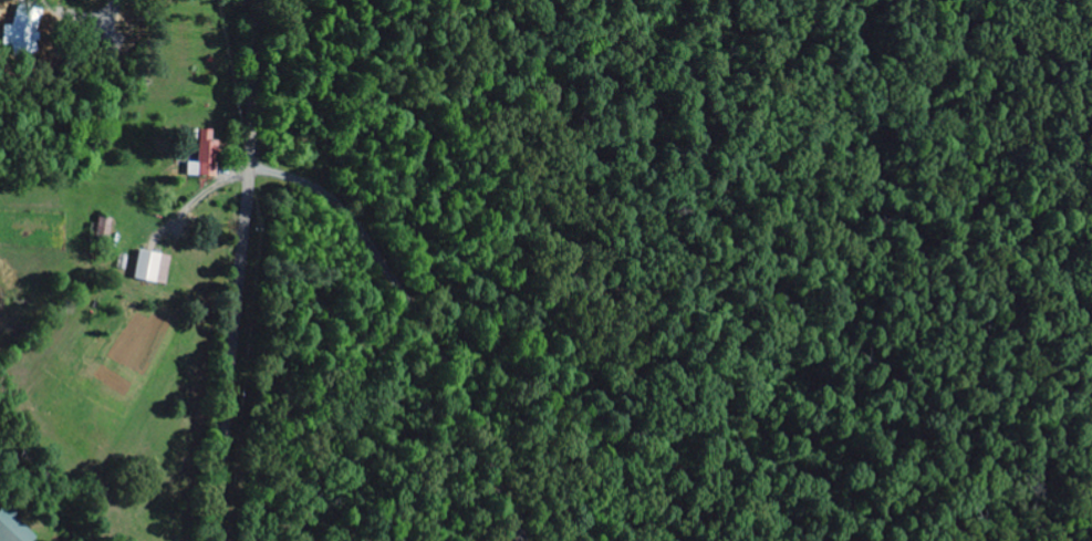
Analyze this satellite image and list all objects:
building: (200, 156)
building: (152, 267)
road: (239, 270)
building: (17, 528)

